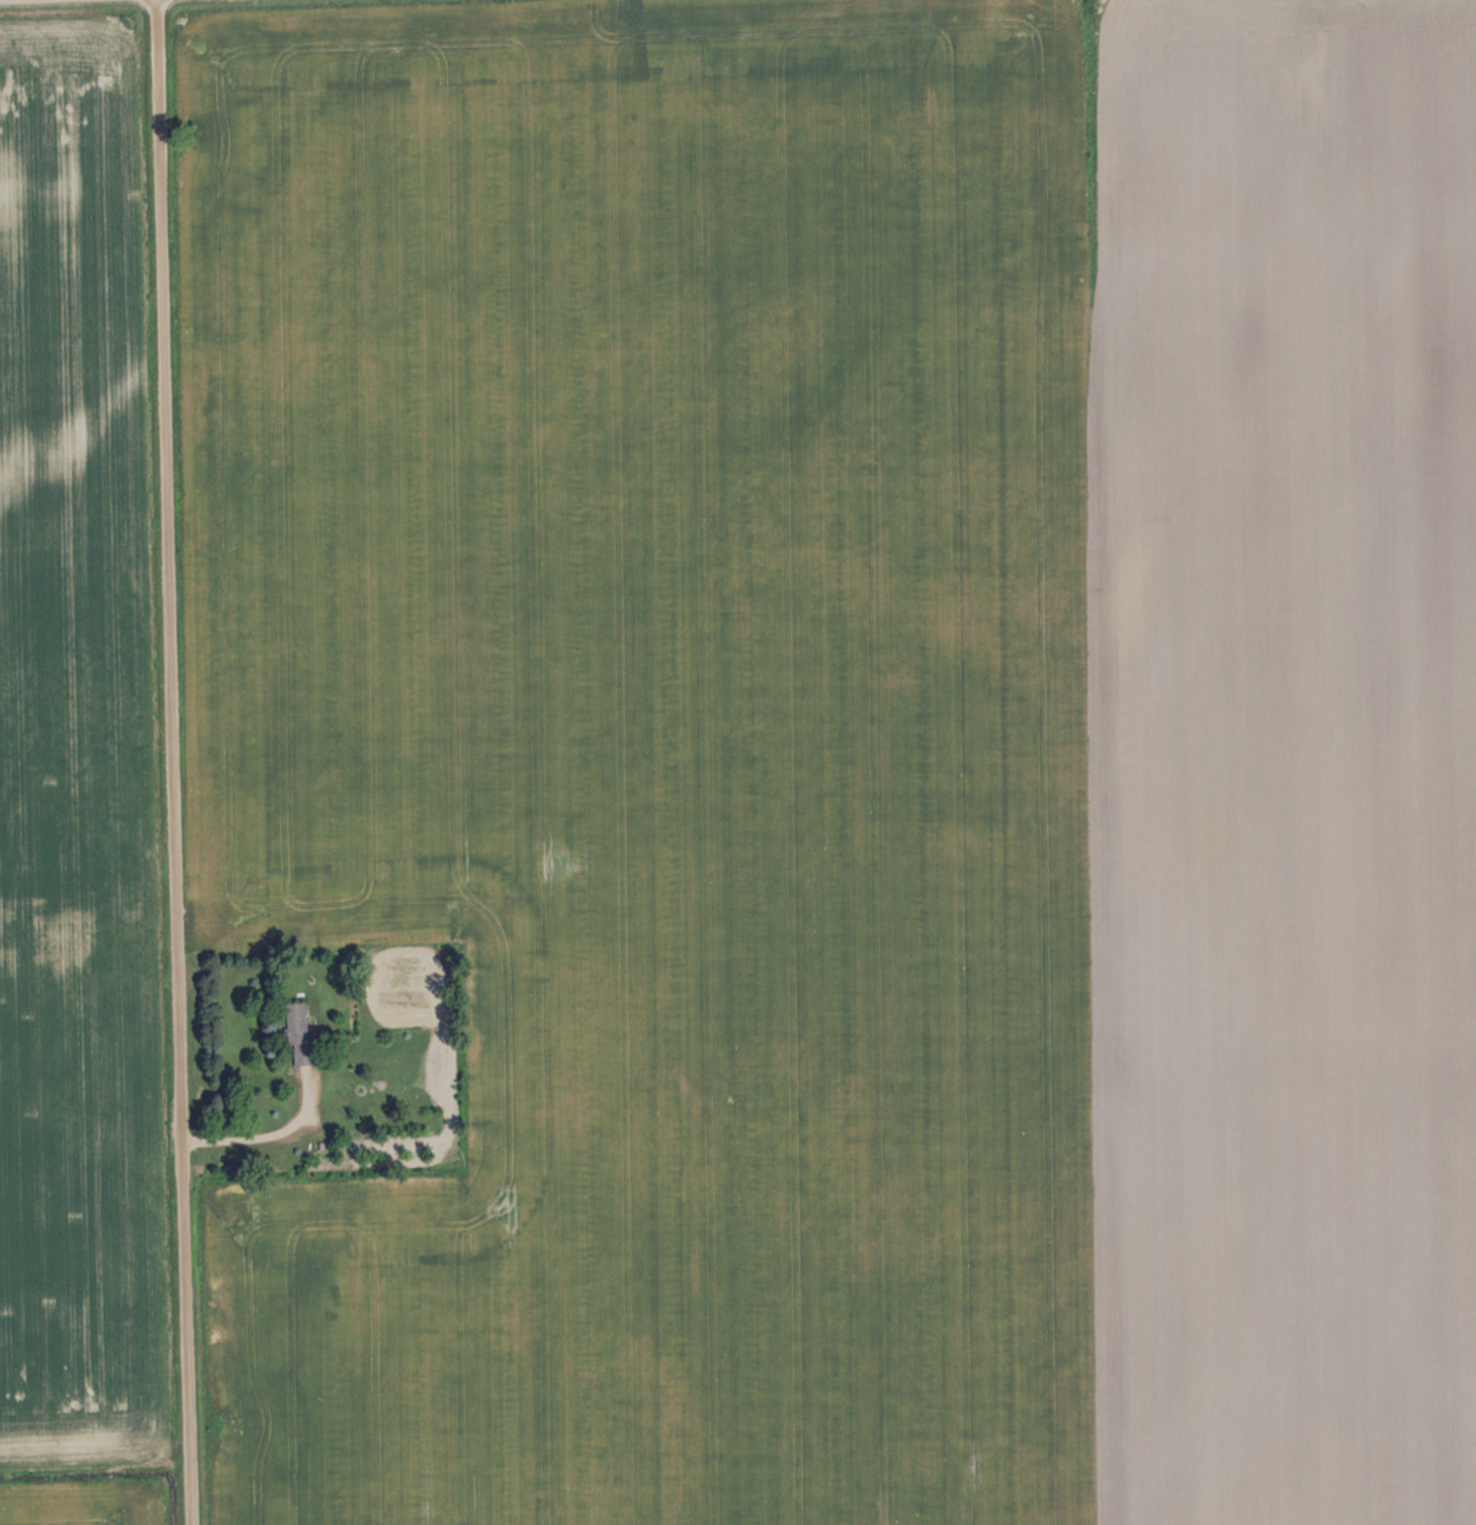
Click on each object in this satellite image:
road: (166, 762)
building: (297, 1033)

